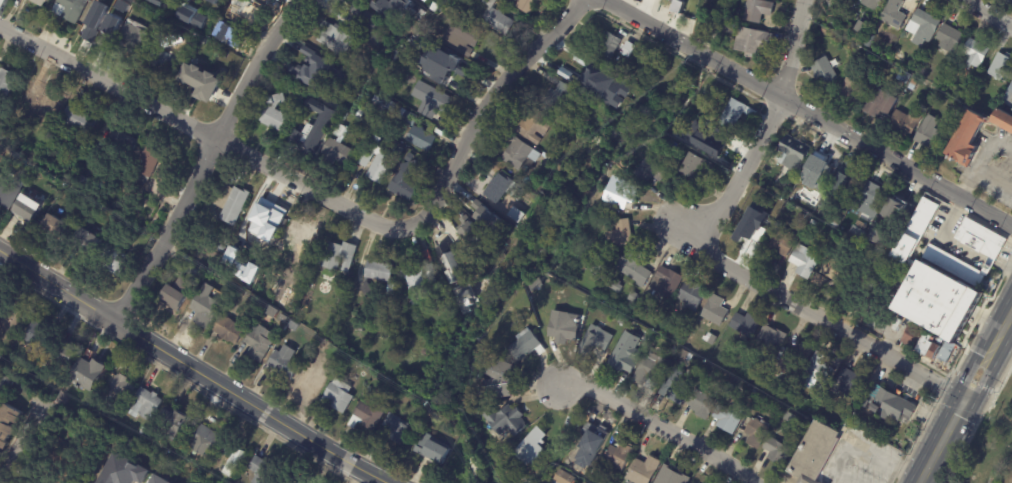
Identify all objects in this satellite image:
building: (215, 0)
building: (220, 0)
building: (426, 1)
building: (40, 2)
building: (159, 2)
building: (447, 2)
building: (128, 3)
building: (870, 3)
building: (197, 5)
building: (529, 5)
building: (677, 6)
building: (392, 8)
building: (71, 9)
building: (759, 11)
building: (245, 12)
road: (988, 12)
building: (890, 15)
building: (192, 16)
building: (498, 19)
building: (106, 25)
building: (369, 25)
building: (216, 26)
building: (921, 26)
building: (856, 27)
building: (734, 29)
building: (426, 31)
building: (137, 38)
building: (336, 38)
building: (463, 38)
building: (947, 39)
building: (171, 42)
building: (755, 43)
building: (609, 46)
building: (630, 48)
building: (409, 52)
building: (220, 54)
building: (568, 54)
building: (972, 54)
building: (404, 59)
building: (167, 63)
building: (833, 65)
building: (454, 67)
building: (998, 67)
building: (317, 73)
building: (822, 73)
building: (592, 74)
building: (201, 75)
building: (629, 75)
building: (904, 78)
building: (370, 82)
building: (911, 82)
building: (6, 83)
building: (849, 92)
building: (221, 95)
building: (941, 96)
building: (560, 98)
building: (1008, 99)
building: (42, 102)
building: (437, 103)
building: (384, 104)
building: (879, 104)
building: (975, 105)
road: (484, 106)
building: (336, 111)
road: (806, 111)
building: (737, 114)
building: (276, 115)
building: (344, 117)
building: (79, 121)
building: (903, 123)
building: (535, 124)
building: (940, 126)
road: (764, 127)
building: (32, 130)
road: (203, 132)
building: (307, 132)
building: (417, 132)
building: (974, 134)
building: (928, 135)
building: (562, 136)
building: (714, 141)
building: (122, 145)
building: (340, 148)
road: (988, 151)
building: (520, 152)
building: (795, 152)
building: (422, 153)
road: (206, 157)
building: (377, 161)
building: (152, 165)
building: (697, 166)
building: (823, 166)
building: (654, 168)
building: (848, 179)
building: (83, 181)
building: (406, 182)
road: (992, 183)
building: (803, 184)
road: (967, 185)
building: (504, 188)
building: (627, 192)
building: (871, 193)
building: (7, 196)
building: (232, 202)
building: (899, 204)
building: (775, 206)
building: (27, 209)
building: (518, 214)
building: (268, 215)
building: (800, 216)
building: (838, 221)
building: (812, 222)
building: (483, 223)
building: (861, 225)
building: (56, 227)
building: (467, 230)
building: (920, 231)
building: (303, 232)
building: (750, 233)
building: (622, 234)
building: (888, 236)
building: (781, 242)
building: (89, 244)
building: (446, 247)
building: (991, 250)
building: (426, 254)
building: (341, 255)
building: (319, 259)
building: (806, 260)
building: (114, 261)
building: (458, 263)
building: (585, 264)
building: (238, 266)
building: (636, 266)
building: (599, 272)
building: (377, 273)
building: (820, 278)
building: (844, 279)
building: (667, 281)
building: (419, 282)
building: (615, 285)
building: (392, 288)
building: (177, 293)
building: (692, 295)
building: (633, 296)
building: (407, 299)
building: (273, 308)
building: (716, 310)
building: (203, 312)
road: (815, 312)
building: (284, 316)
building: (359, 316)
building: (519, 317)
building: (10, 321)
building: (624, 321)
road: (1006, 321)
building: (747, 323)
building: (513, 324)
building: (560, 326)
building: (294, 327)
building: (230, 329)
building: (880, 329)
building: (348, 334)
building: (45, 337)
building: (600, 337)
building: (711, 338)
building: (773, 338)
building: (260, 341)
building: (925, 341)
building: (322, 344)
building: (528, 344)
building: (945, 350)
building: (628, 352)
building: (800, 357)
building: (841, 359)
building: (285, 362)
building: (0, 365)
road: (981, 365)
building: (87, 366)
road: (193, 367)
building: (820, 367)
building: (654, 368)
building: (312, 378)
building: (503, 378)
building: (849, 382)
building: (122, 385)
building: (790, 386)
building: (374, 388)
building: (681, 388)
building: (722, 390)
building: (800, 391)
building: (340, 395)
building: (727, 395)
building: (704, 403)
building: (146, 404)
building: (893, 405)
railway: (970, 407)
building: (370, 414)
building: (430, 416)
building: (730, 417)
building: (508, 419)
building: (794, 419)
building: (181, 423)
building: (9, 425)
road: (656, 425)
building: (398, 428)
building: (143, 431)
building: (757, 432)
building: (595, 435)
building: (793, 435)
building: (205, 439)
road: (19, 441)
road: (941, 441)
building: (226, 448)
building: (534, 448)
building: (434, 449)
building: (779, 452)
building: (815, 452)
building: (621, 455)
building: (1, 457)
building: (235, 460)
building: (262, 470)
building: (646, 470)
building: (123, 471)
building: (673, 476)
building: (564, 477)
building: (156, 480)
building: (278, 482)
building: (586, 482)

